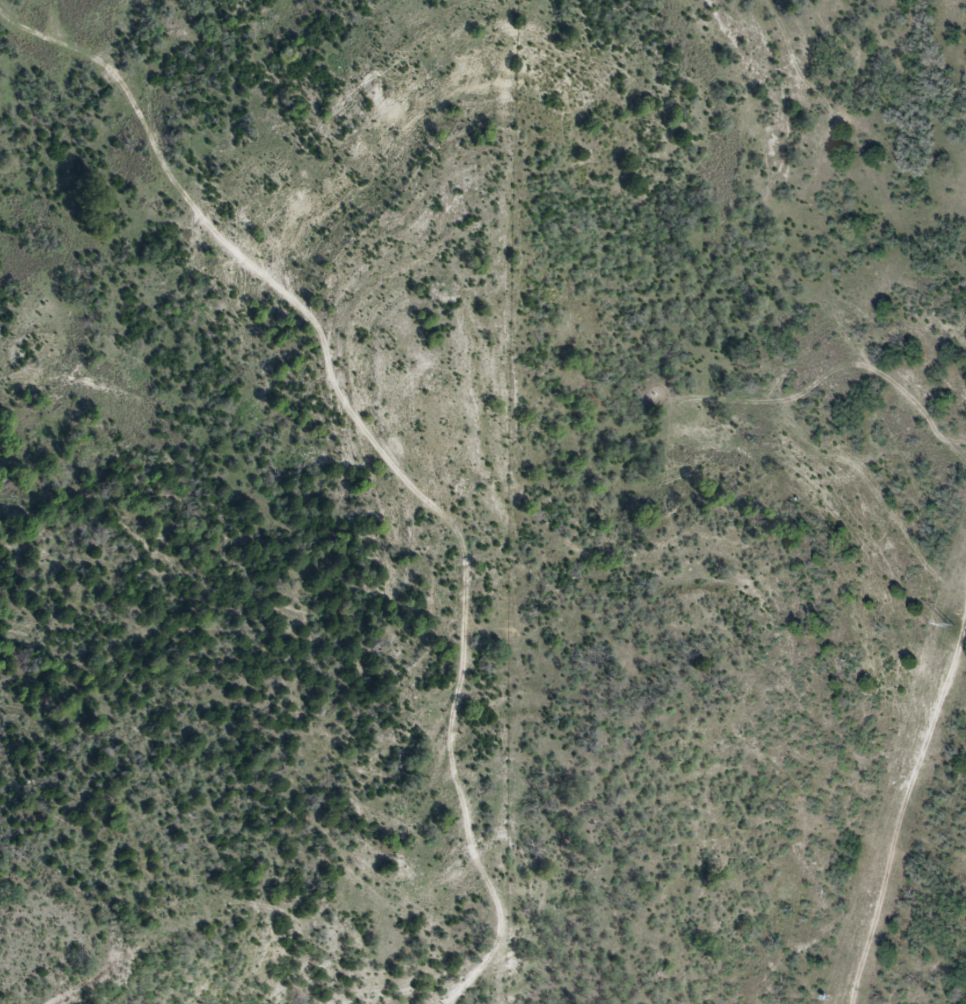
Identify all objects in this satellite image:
power tower: (951, 629)

